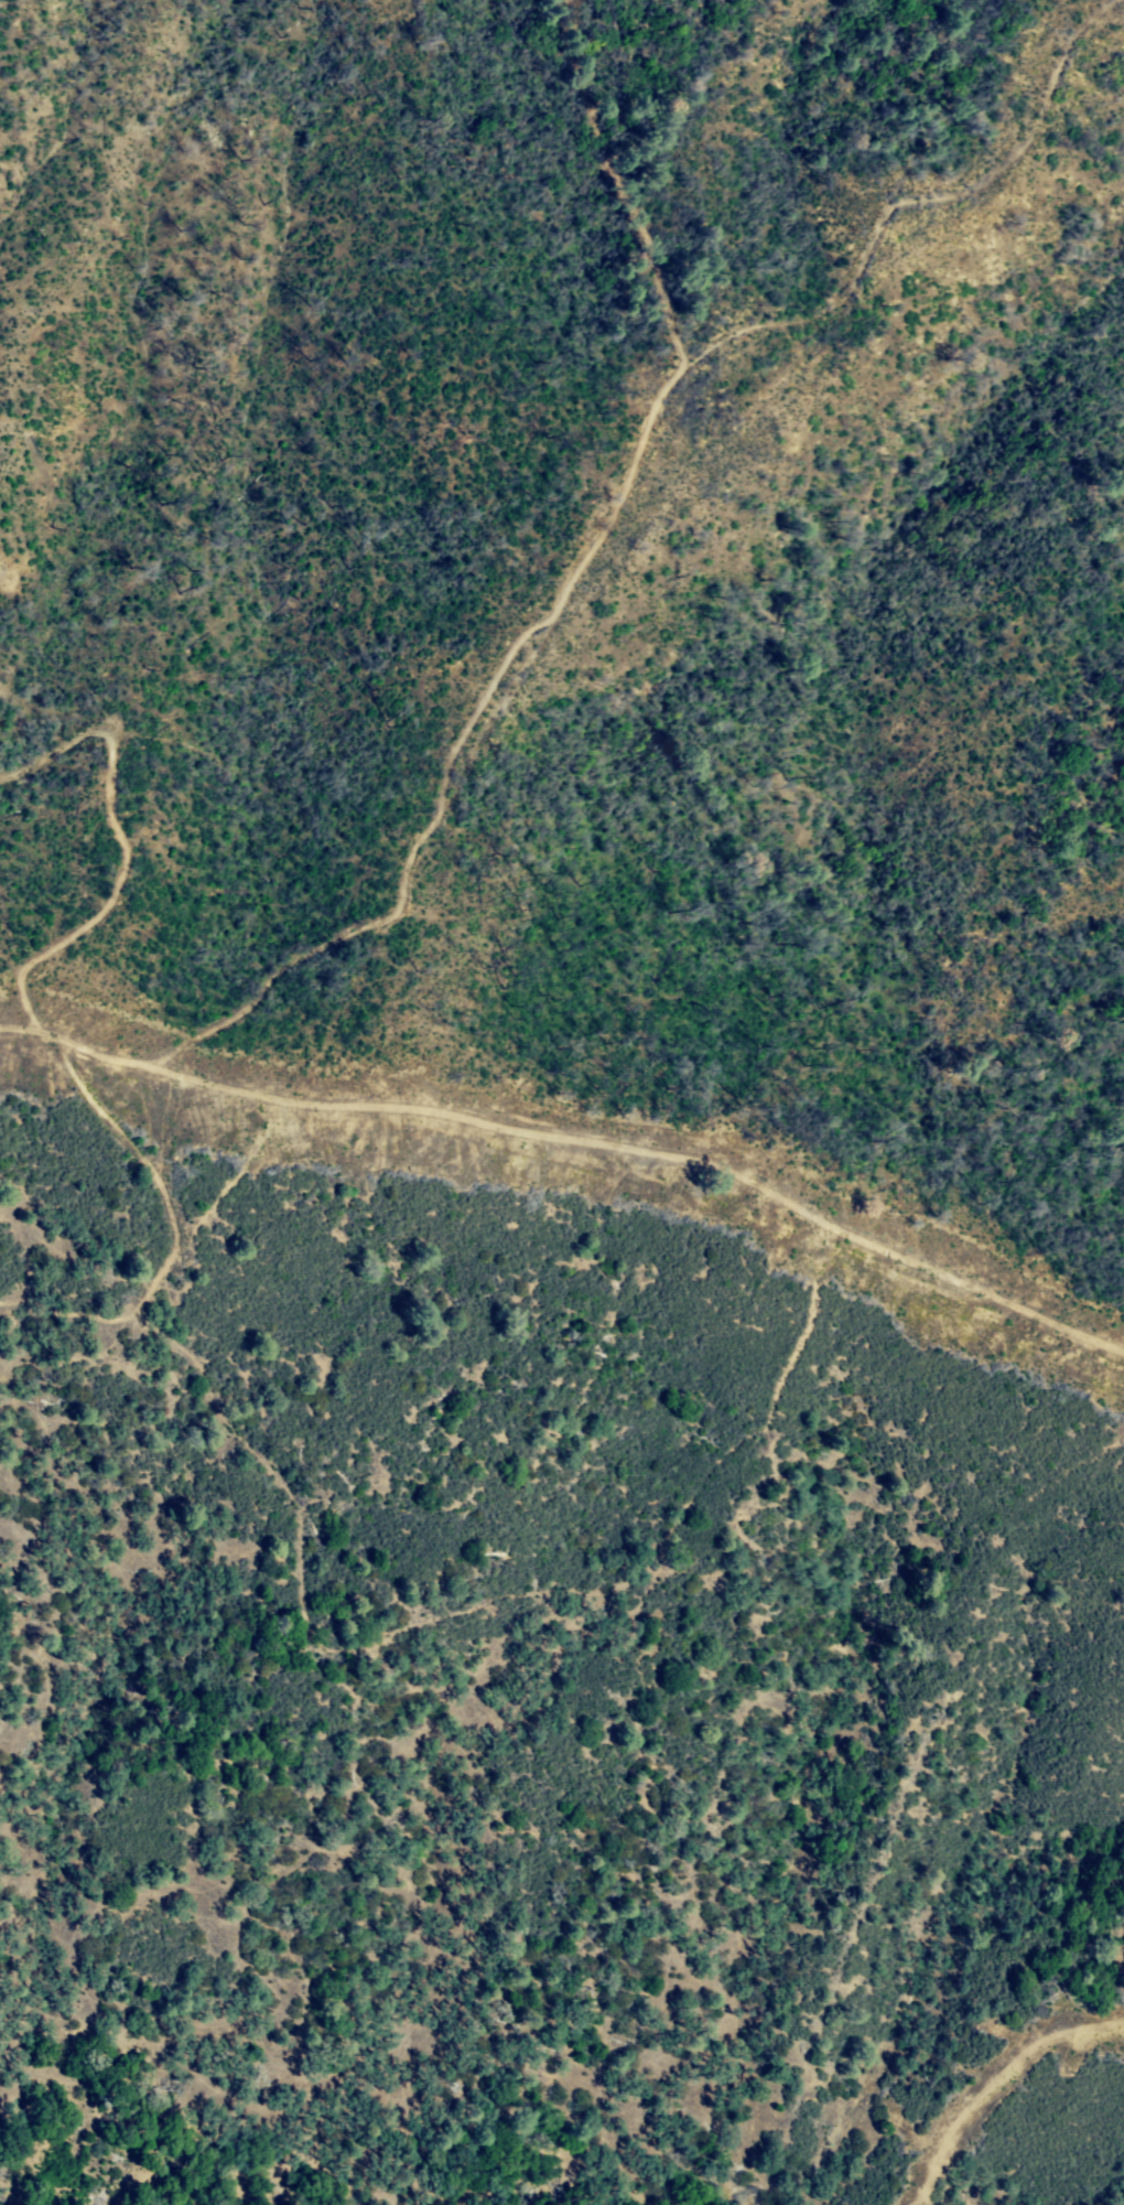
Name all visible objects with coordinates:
road: (576, 1136)
road: (1002, 2086)

